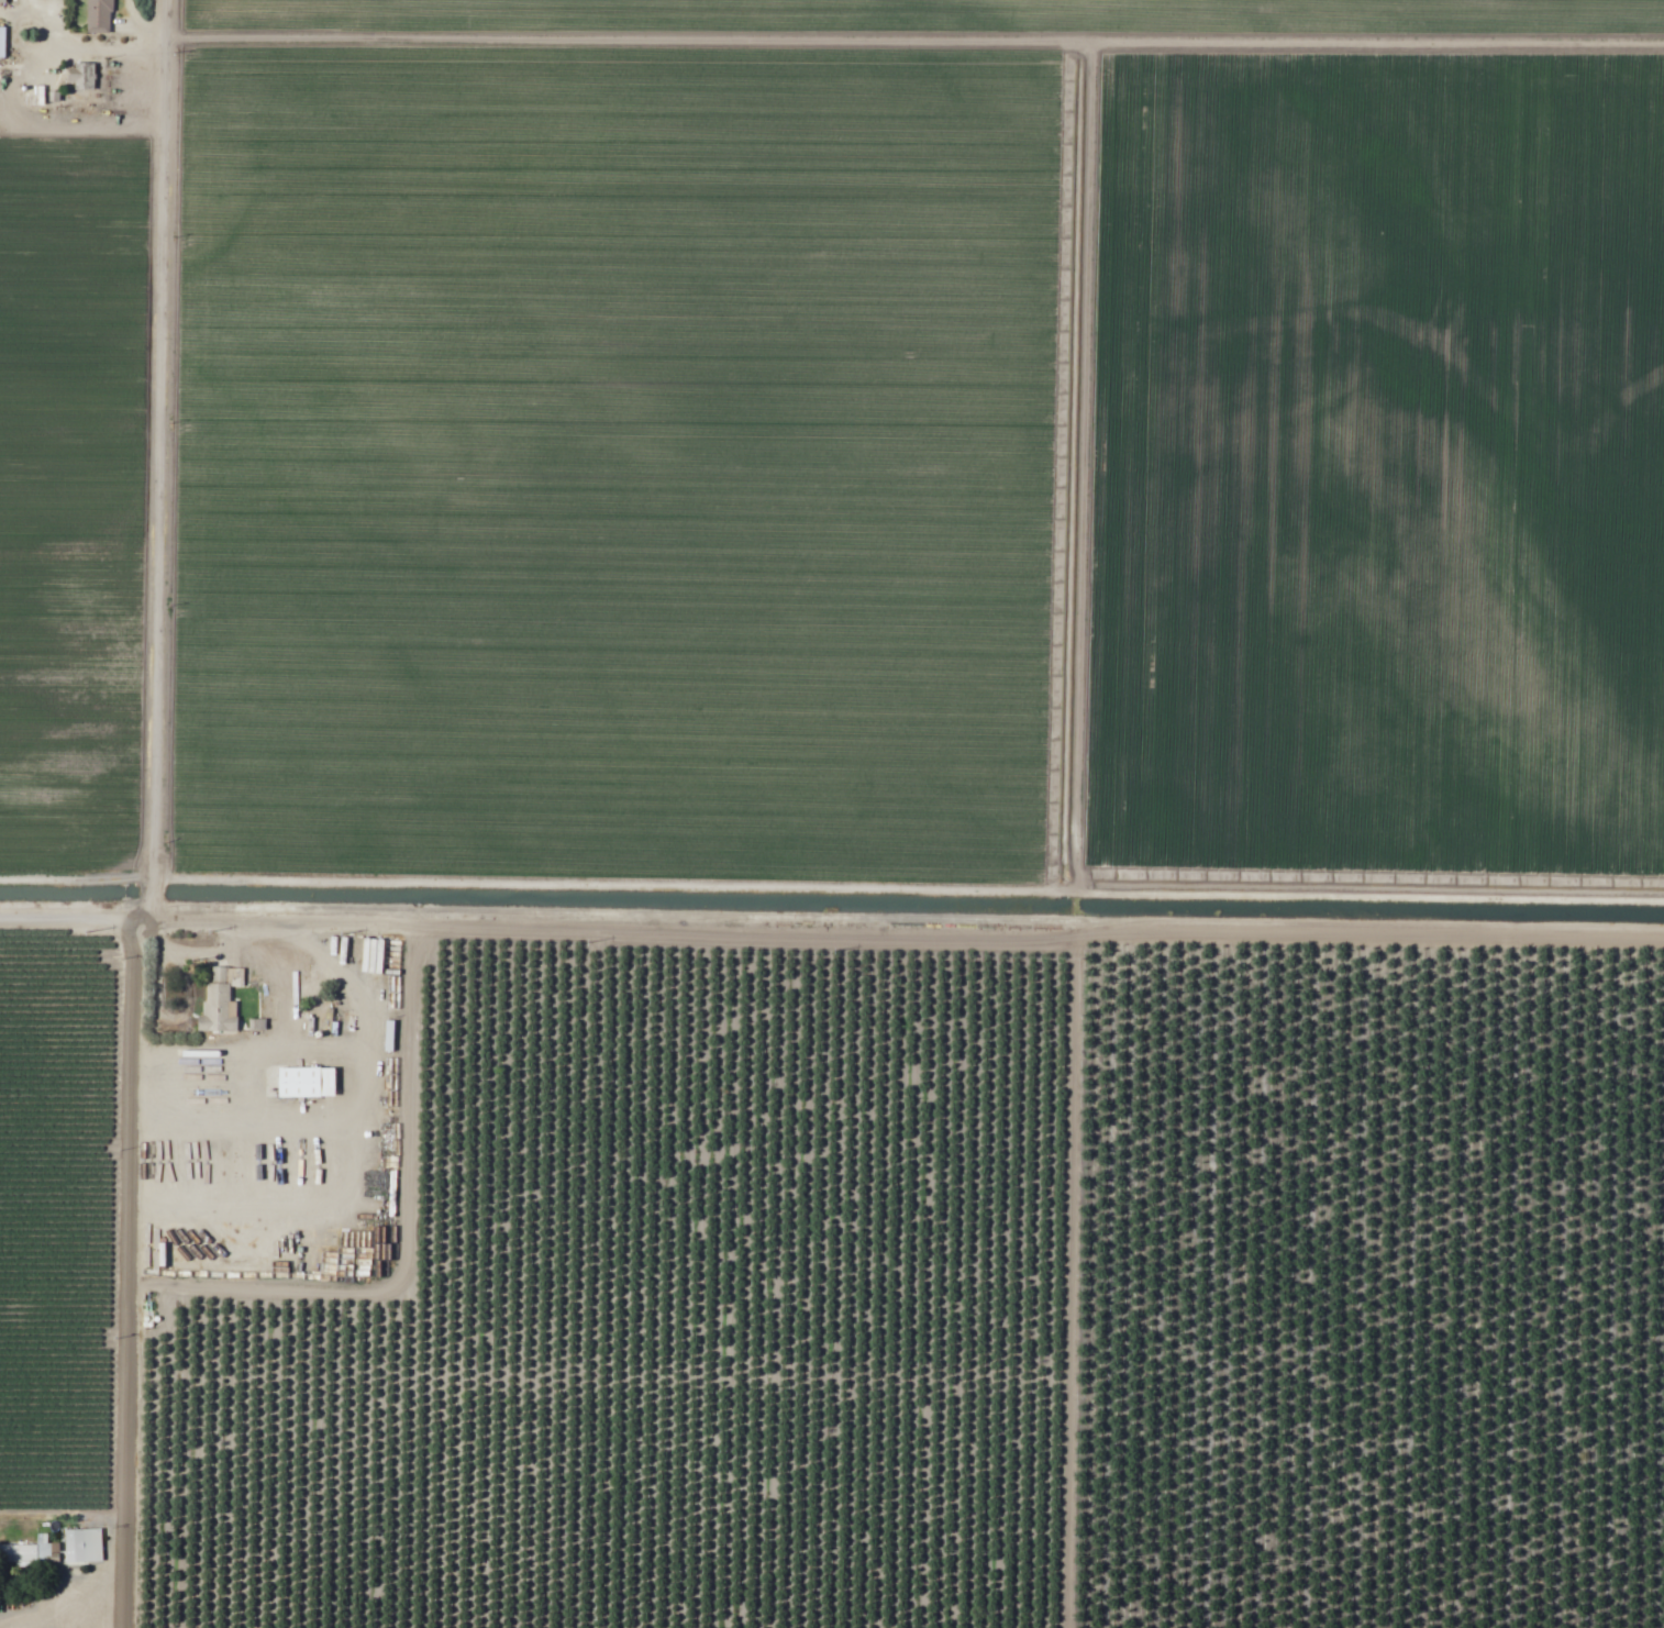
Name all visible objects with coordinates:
building: (2, 0)
building: (100, 15)
building: (2, 40)
building: (82, 75)
crop: (68, 422)
crop: (1358, 424)
crop: (633, 439)
road: (156, 818)
road: (65, 913)
road: (903, 916)
building: (219, 1003)
building: (308, 1079)
road: (345, 1106)
crop: (57, 1271)
crop: (950, 1300)
building: (85, 1543)
building: (27, 1550)

